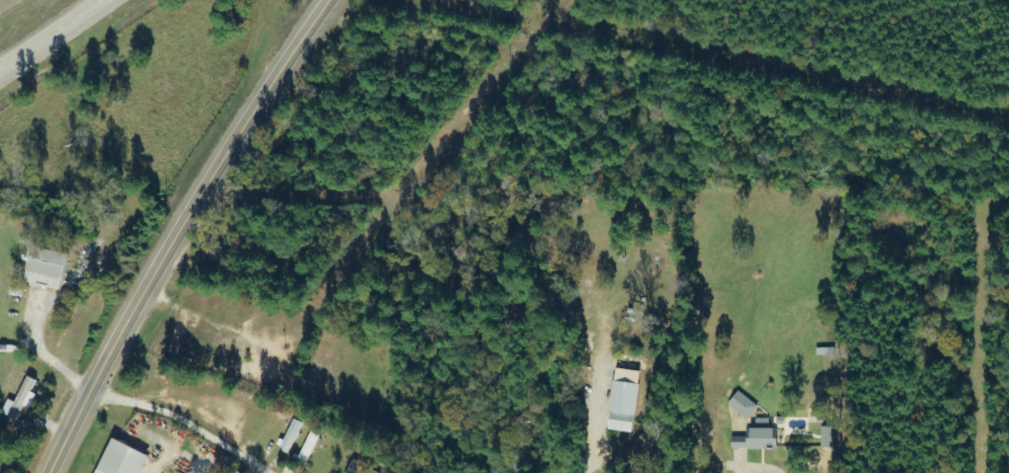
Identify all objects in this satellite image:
road: (47, 31)
road: (179, 230)
building: (44, 268)
building: (21, 398)
building: (623, 398)
building: (743, 403)
building: (290, 434)
building: (759, 434)
building: (827, 435)
building: (309, 445)
building: (119, 458)
road: (765, 467)
building: (358, 468)

